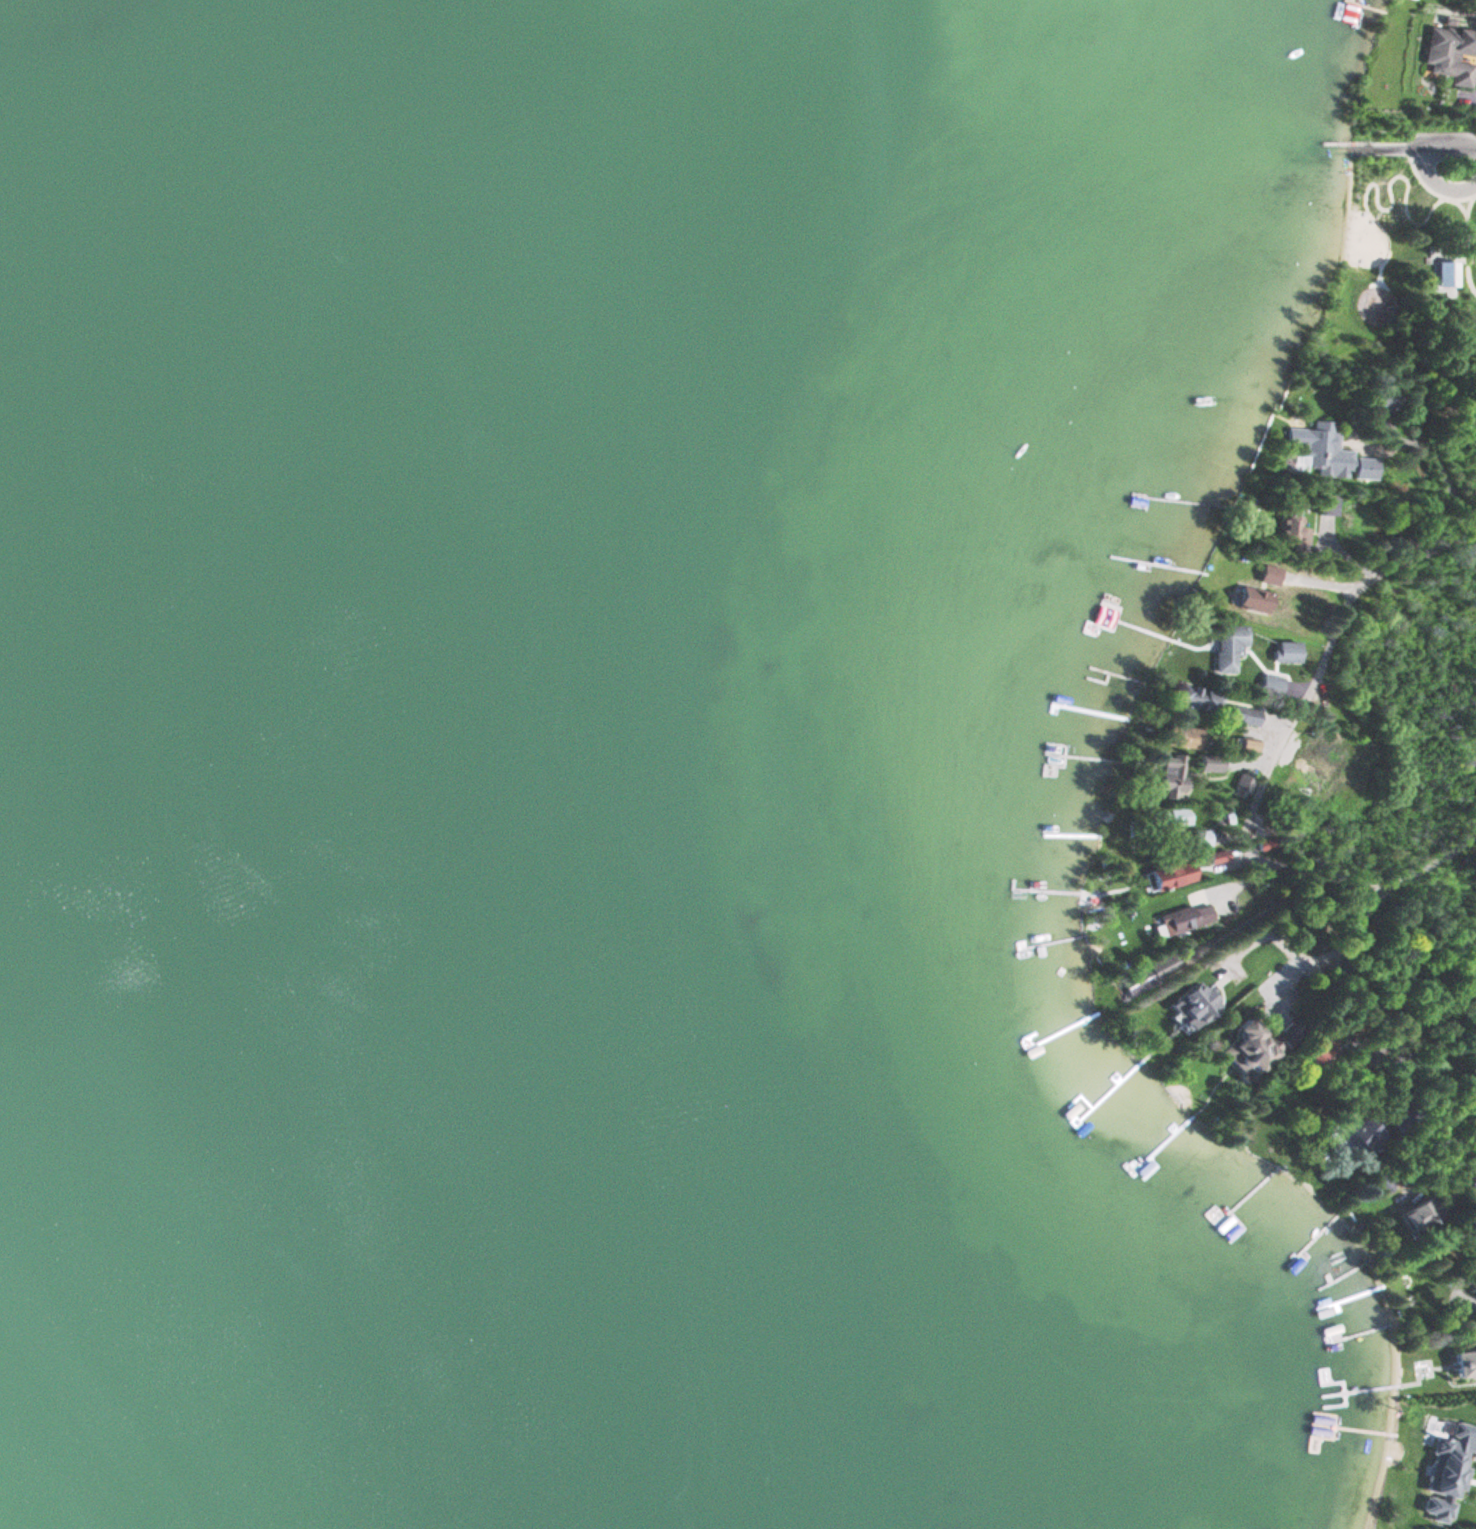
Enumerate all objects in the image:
building: (1449, 53)
road: (1417, 156)
road: (1389, 178)
road: (1434, 190)
road: (1469, 203)
road: (1467, 243)
park: (1399, 272)
building: (1329, 452)
building: (1130, 501)
building: (1291, 524)
building: (1255, 599)
road: (1330, 638)
building: (1228, 647)
building: (1286, 651)
building: (1195, 697)
building: (1243, 715)
building: (1184, 737)
building: (1210, 763)
building: (1172, 773)
building: (1241, 785)
building: (1176, 816)
building: (1197, 838)
building: (1217, 856)
building: (1168, 876)
building: (1181, 919)
building: (1256, 963)
building: (1150, 973)
building: (1258, 1045)
building: (1420, 1215)
building: (1466, 1364)
building: (1463, 1450)

